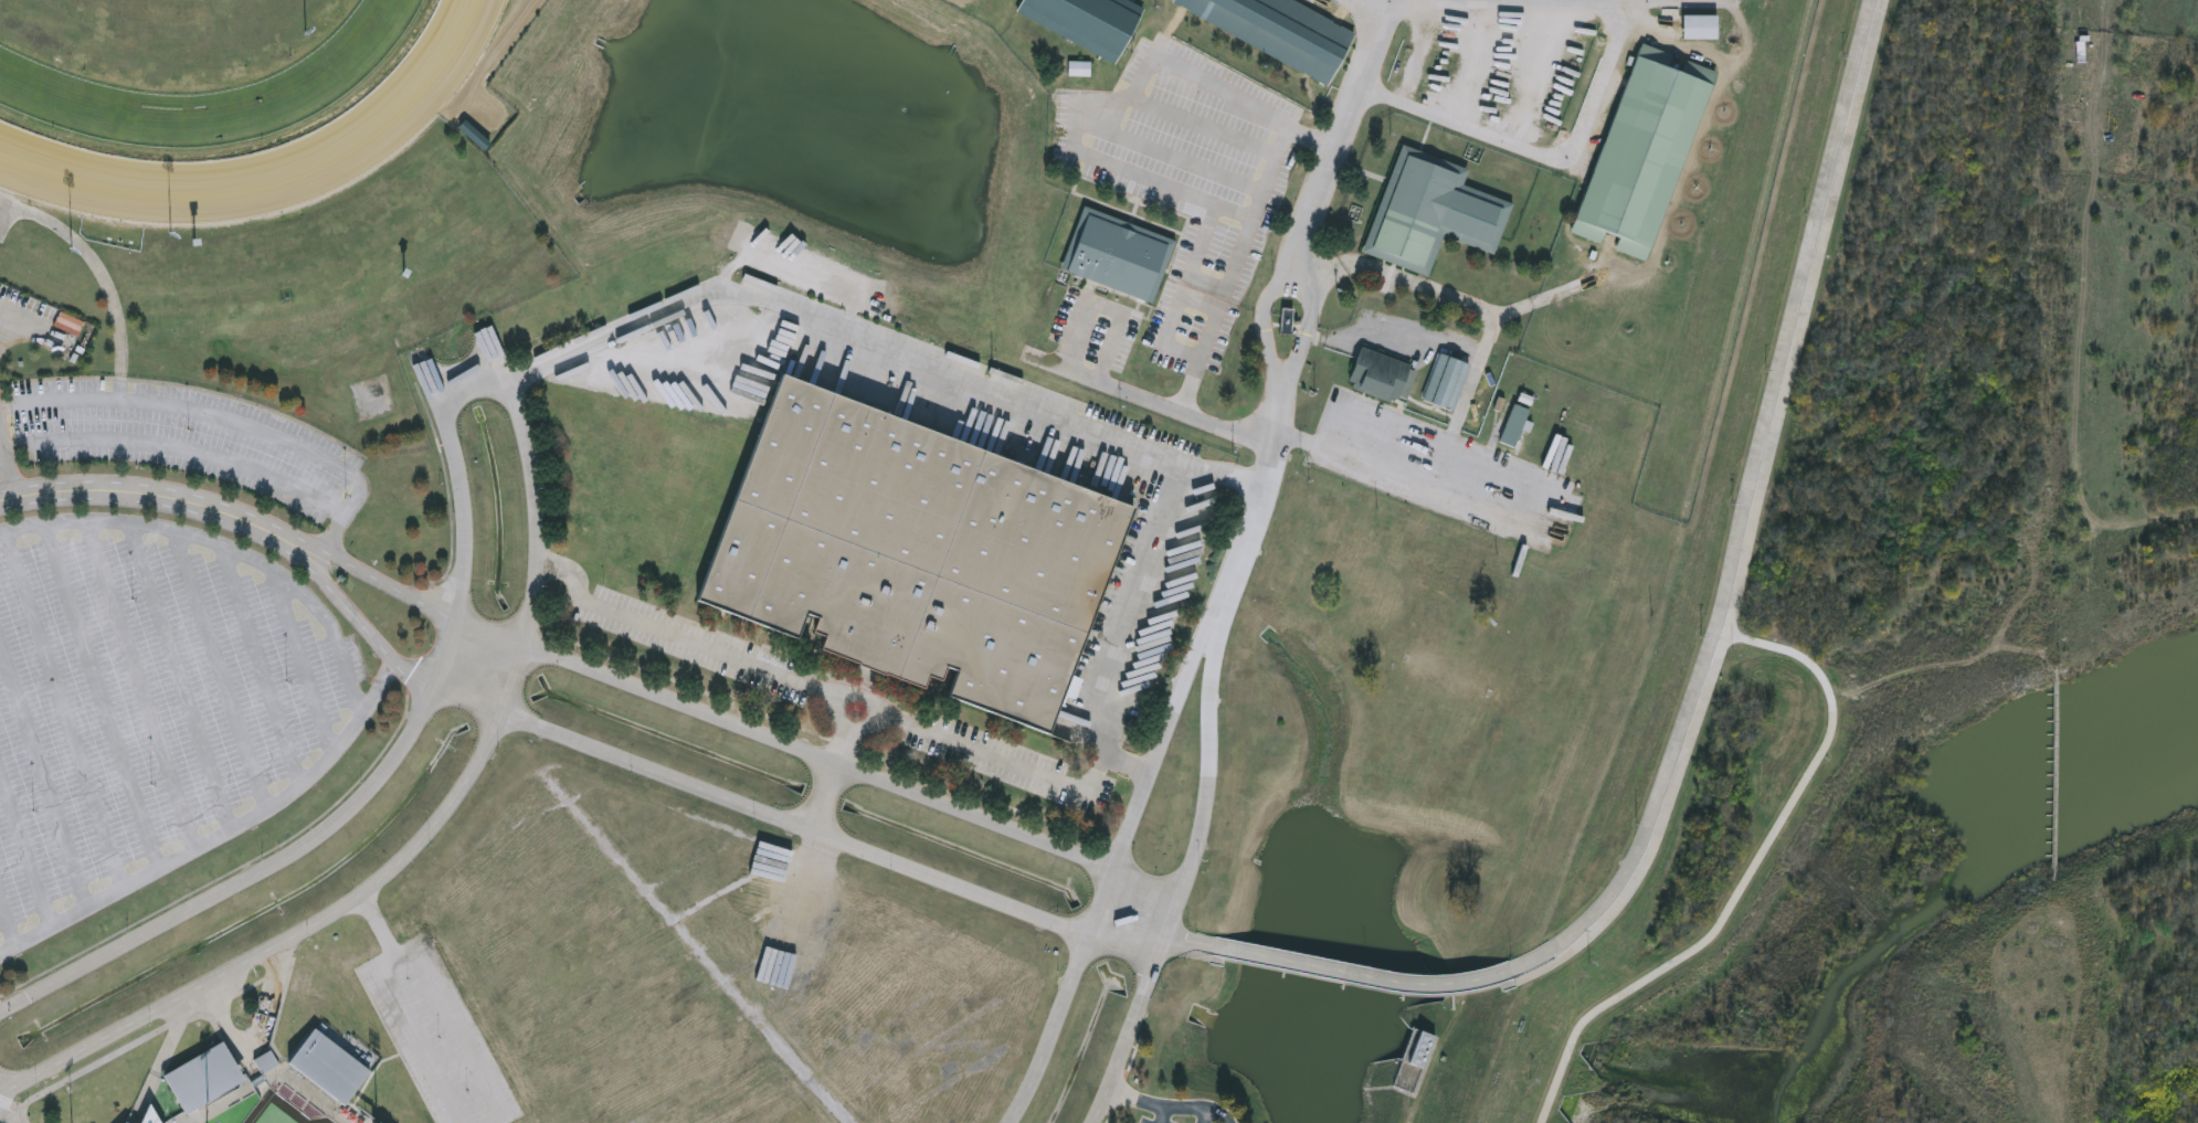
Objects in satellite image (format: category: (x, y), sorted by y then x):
road: (1456, 1)
road: (1492, 2)
flagpole: (0, 3)
building: (1089, 22)
building: (1700, 28)
building: (1282, 32)
track: (220, 98)
road: (1077, 104)
road: (1114, 124)
road: (1343, 125)
road: (1204, 126)
building: (474, 138)
road: (1311, 140)
building: (1644, 152)
road: (1542, 155)
road: (1184, 192)
building: (1430, 212)
road: (6, 216)
building: (1110, 248)
road: (98, 274)
road: (1536, 303)
parking lot: (28, 304)
road: (1211, 304)
road: (1108, 309)
road: (1482, 309)
parking lot: (1160, 315)
road: (24, 317)
road: (3, 318)
building: (1287, 321)
parking lot: (1060, 324)
road: (1389, 325)
parking lot: (1192, 327)
parking lot: (1223, 341)
parking lot: (1097, 342)
parking lot: (1127, 343)
road: (891, 346)
road: (1044, 360)
parking lot: (1169, 361)
road: (551, 367)
road: (1100, 373)
building: (1381, 375)
building: (1446, 382)
building: (1525, 399)
road: (1162, 404)
road: (226, 417)
building: (1515, 425)
parking lot: (186, 438)
road: (181, 448)
road: (7, 465)
road: (533, 470)
road: (1226, 473)
road: (1392, 476)
road: (447, 485)
road: (1267, 486)
road: (135, 492)
road: (1744, 515)
building: (915, 553)
road: (361, 570)
road: (571, 572)
road: (1135, 608)
road: (349, 610)
road: (1734, 637)
road: (1219, 640)
road: (721, 654)
parking lot: (357, 658)
road: (262, 666)
road: (303, 666)
parking lot: (283, 667)
parking lot: (240, 668)
road: (221, 671)
parking lot: (325, 672)
road: (180, 678)
road: (141, 687)
road: (379, 689)
road: (102, 698)
road: (359, 708)
road: (64, 710)
parking lot: (105, 727)
road: (1165, 732)
road: (952, 740)
road: (826, 756)
road: (391, 765)
road: (43, 775)
road: (799, 825)
road: (25, 849)
road: (232, 872)
road: (709, 901)
road: (352, 902)
road: (8, 922)
road: (379, 924)
road: (1192, 941)
road: (410, 947)
road: (697, 950)
road: (1363, 975)
road: (267, 1003)
road: (179, 1023)
road: (225, 1024)
parking lot: (441, 1035)
road: (225, 1043)
road: (397, 1046)
building: (1423, 1051)
road: (163, 1058)
building: (267, 1063)
road: (87, 1069)
building: (329, 1069)
road: (371, 1078)
building: (203, 1083)
stadium: (266, 1087)
road: (12, 1104)
road: (1170, 1110)
road: (6, 1114)
road: (1162, 1116)
road: (1206, 1116)
building: (150, 1117)
parking lot: (1151, 1121)
stadium: (125, 1122)

